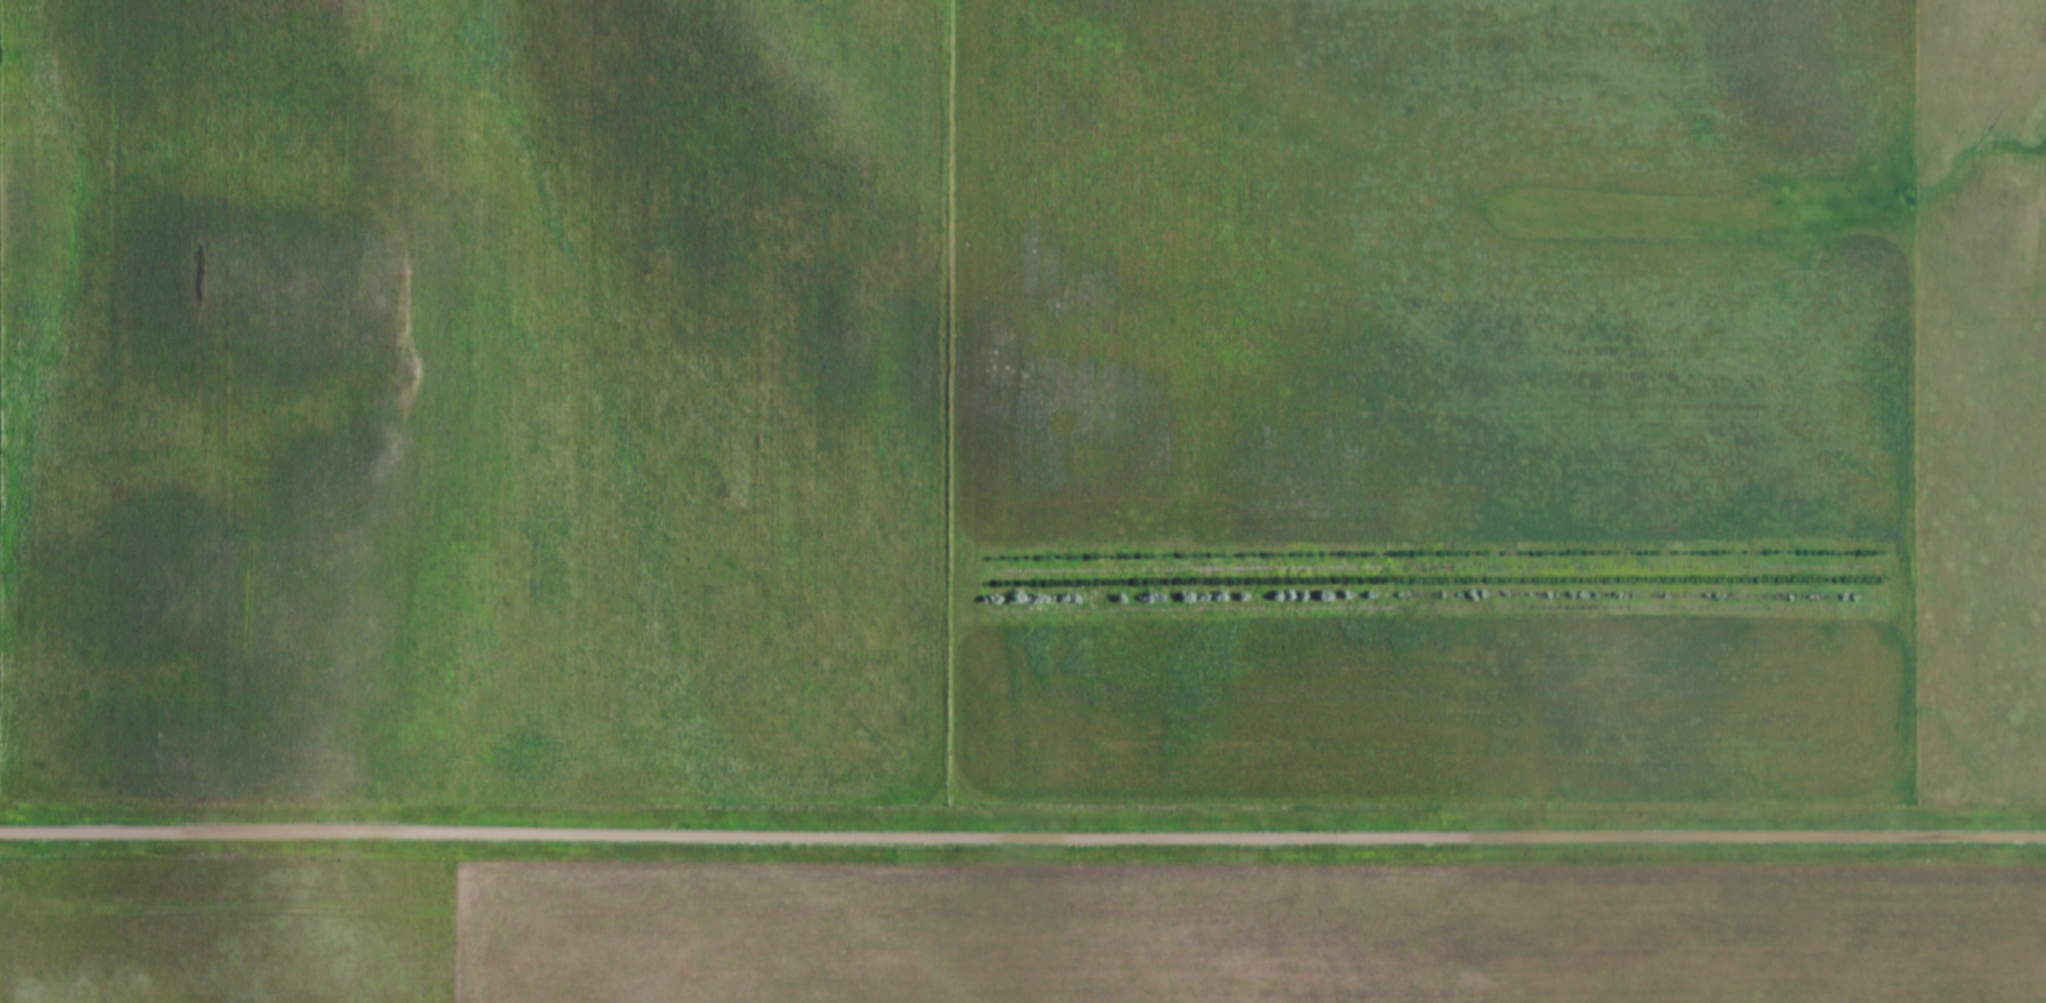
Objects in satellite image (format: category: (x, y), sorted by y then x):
dam: (2039, 19)
road: (1022, 838)

